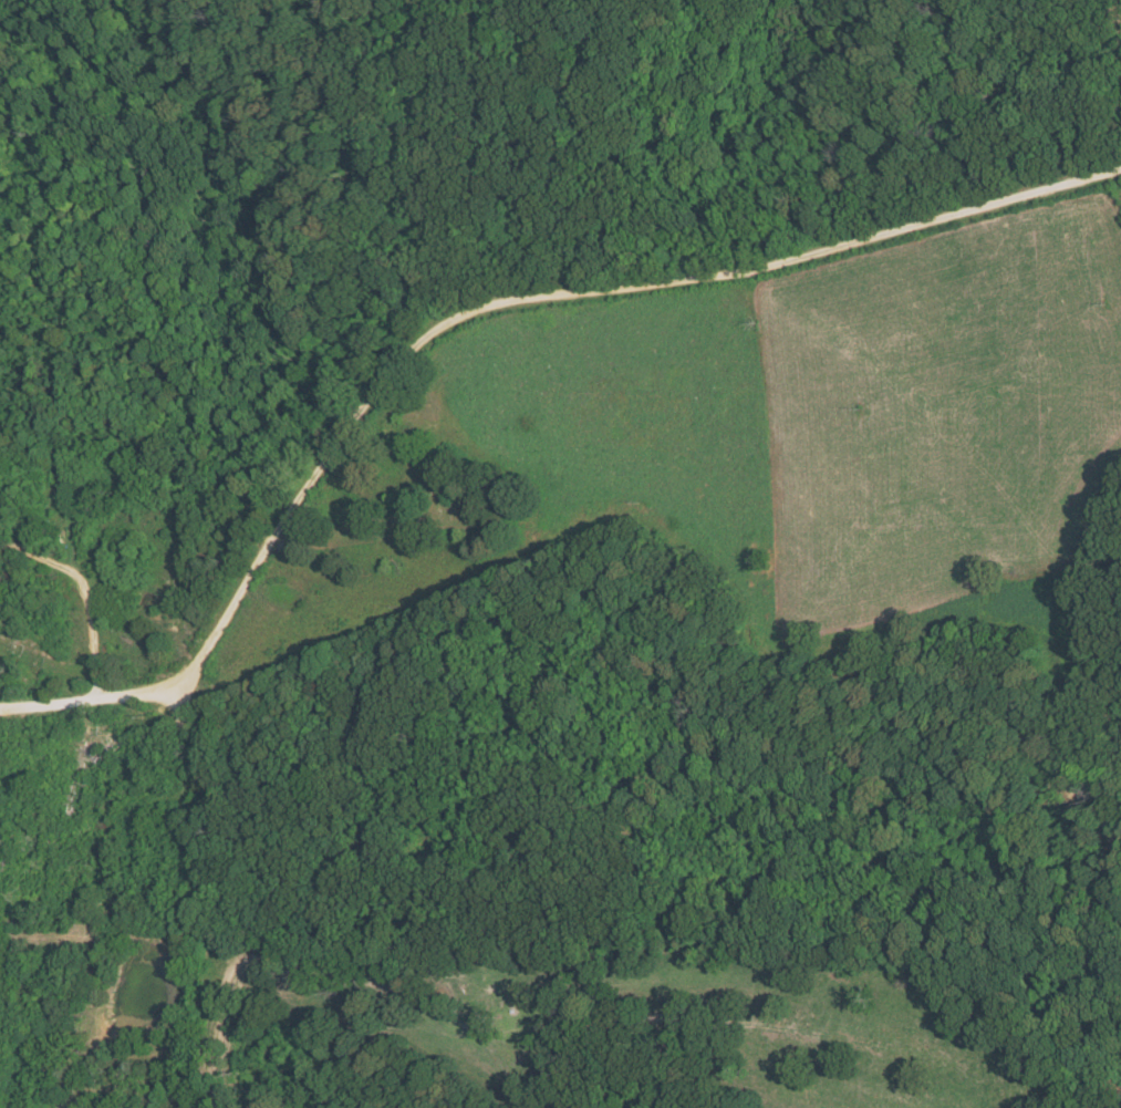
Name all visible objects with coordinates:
road: (473, 310)
park: (419, 487)
road: (86, 591)

